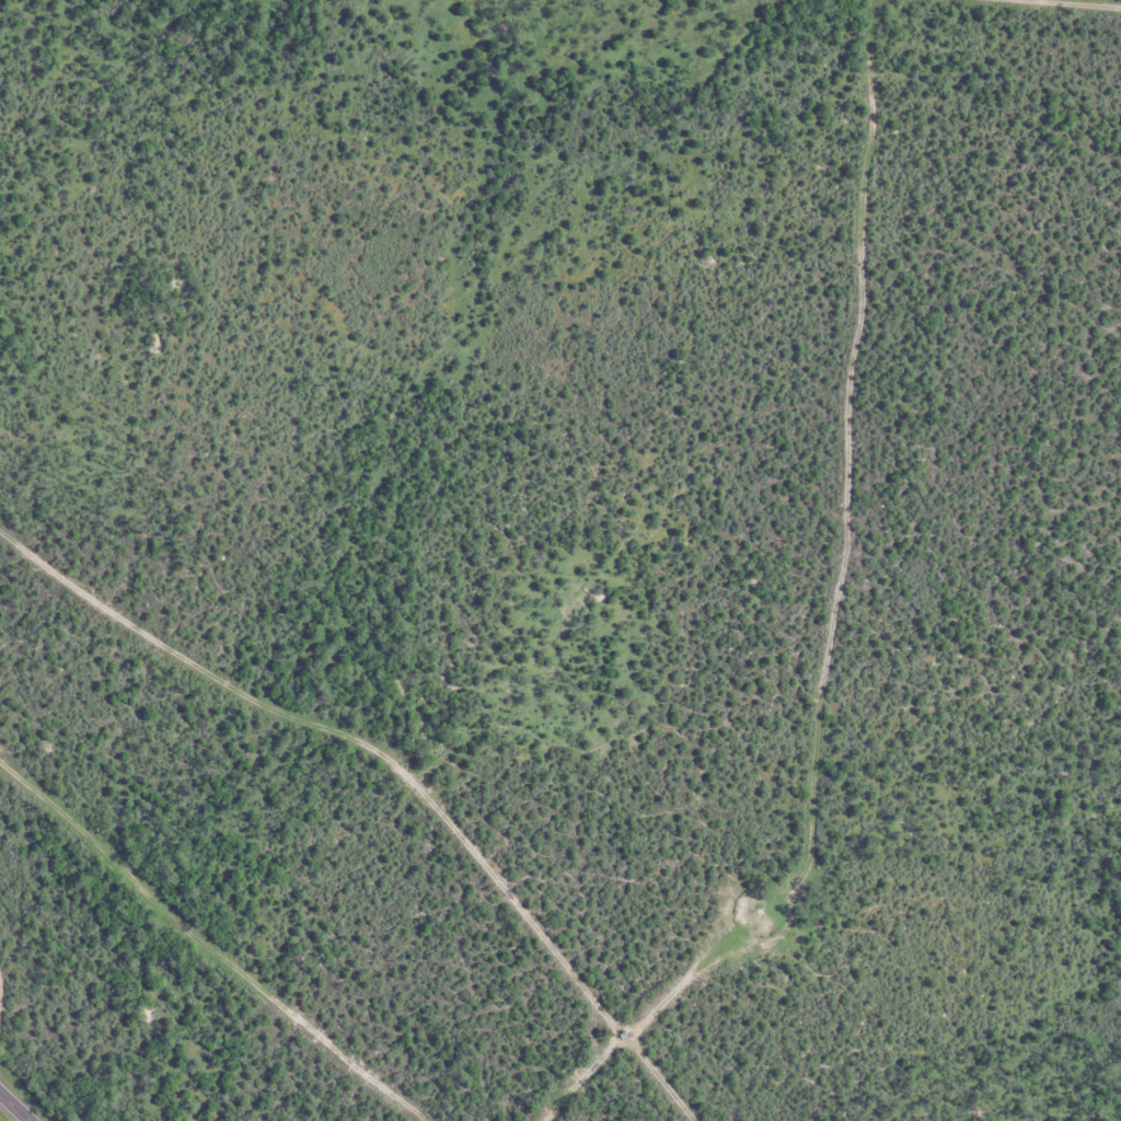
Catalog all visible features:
road: (832, 27)
road: (14, 1107)

